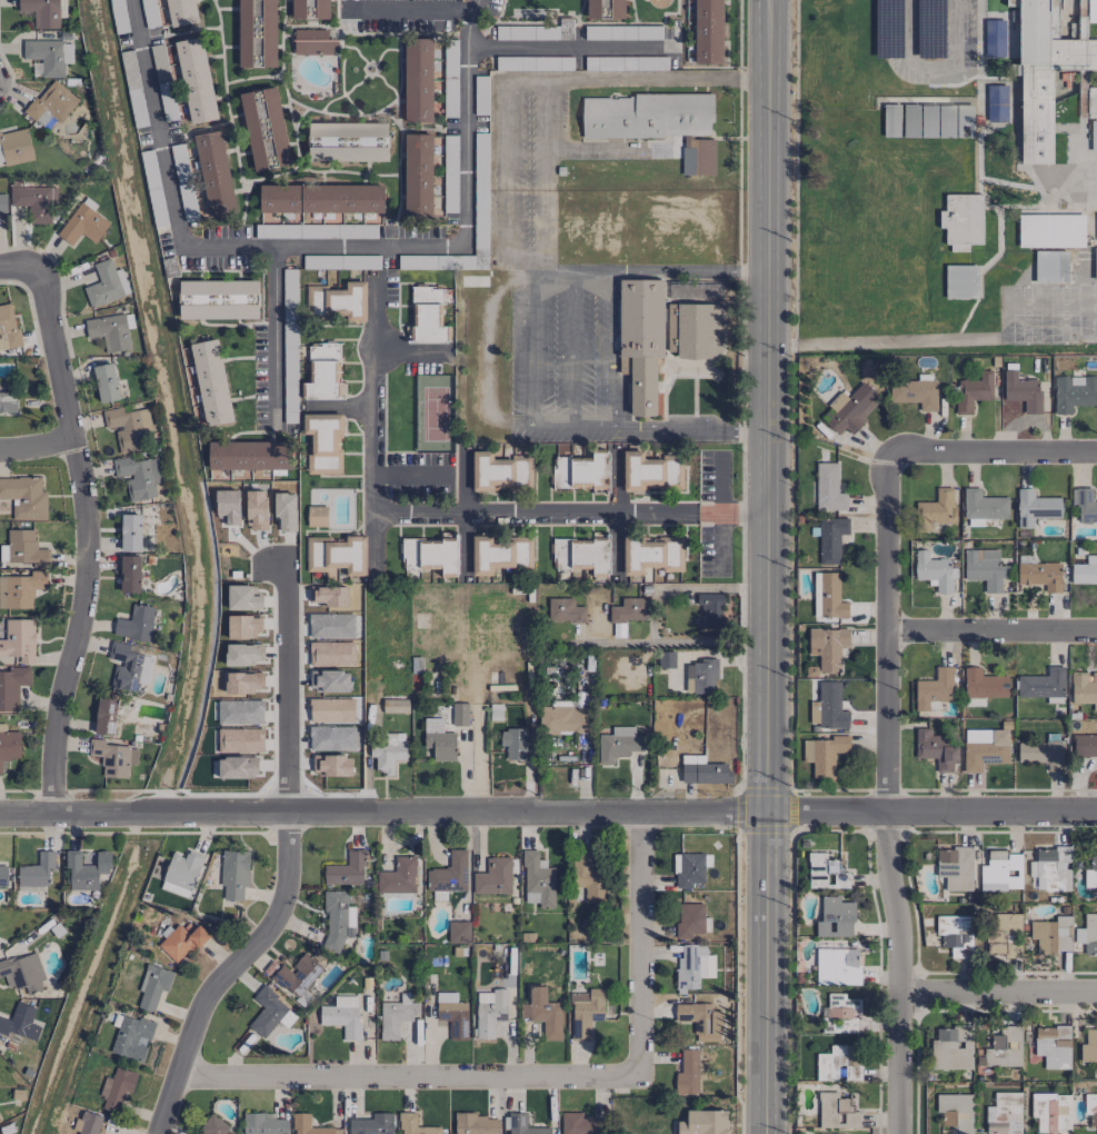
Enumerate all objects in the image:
building: (298, 9)
building: (322, 9)
road: (408, 9)
building: (592, 9)
building: (617, 9)
building: (41, 12)
building: (181, 12)
building: (708, 32)
building: (245, 33)
building: (269, 33)
road: (904, 38)
building: (995, 38)
road: (818, 39)
road: (860, 39)
building: (313, 41)
road: (571, 47)
building: (48, 56)
road: (792, 71)
road: (919, 76)
road: (636, 79)
building: (196, 80)
building: (418, 80)
road: (898, 87)
building: (996, 102)
building: (51, 103)
building: (647, 116)
building: (1094, 136)
building: (347, 141)
road: (790, 143)
building: (256, 145)
building: (14, 147)
building: (705, 157)
building: (215, 173)
building: (418, 175)
road: (503, 176)
building: (320, 198)
building: (34, 201)
building: (2, 202)
building: (961, 221)
building: (82, 225)
building: (1051, 230)
road: (321, 249)
building: (1095, 263)
building: (1051, 267)
road: (19, 268)
road: (558, 271)
road: (691, 272)
building: (960, 281)
building: (106, 285)
building: (218, 299)
park: (1048, 312)
building: (427, 316)
building: (8, 327)
building: (109, 331)
road: (270, 331)
building: (696, 331)
building: (640, 340)
road: (881, 341)
road: (530, 349)
road: (572, 350)
road: (615, 350)
road: (410, 351)
building: (325, 372)
building: (106, 382)
building: (211, 382)
road: (490, 384)
building: (973, 391)
building: (1023, 391)
building: (1074, 392)
building: (915, 394)
building: (8, 400)
road: (343, 406)
building: (852, 410)
building: (128, 428)
road: (594, 429)
road: (691, 430)
building: (322, 442)
road: (990, 444)
road: (36, 448)
building: (249, 456)
building: (500, 471)
building: (582, 472)
building: (651, 472)
road: (420, 475)
building: (138, 476)
road: (465, 484)
building: (828, 488)
building: (24, 498)
building: (1086, 506)
building: (936, 507)
building: (983, 507)
building: (1035, 508)
road: (420, 511)
road: (719, 511)
road: (616, 513)
road: (731, 515)
building: (317, 516)
building: (130, 533)
road: (88, 539)
road: (375, 539)
building: (830, 539)
road: (465, 540)
building: (26, 548)
building: (582, 553)
building: (340, 554)
building: (652, 554)
building: (492, 555)
building: (440, 556)
road: (767, 566)
building: (985, 568)
building: (935, 571)
building: (1085, 571)
building: (130, 574)
building: (1040, 575)
building: (20, 589)
road: (687, 589)
building: (816, 594)
building: (831, 596)
building: (708, 609)
building: (565, 610)
building: (136, 624)
road: (988, 626)
building: (19, 639)
road: (674, 641)
building: (827, 647)
building: (667, 656)
building: (128, 667)
building: (700, 677)
building: (1043, 684)
building: (11, 687)
building: (983, 687)
building: (1084, 687)
building: (934, 688)
road: (289, 692)
building: (395, 706)
building: (830, 706)
building: (460, 714)
building: (106, 716)
building: (565, 718)
building: (439, 739)
building: (513, 743)
building: (618, 744)
building: (9, 745)
building: (985, 748)
building: (937, 749)
building: (388, 752)
building: (1041, 754)
building: (824, 755)
building: (113, 758)
building: (704, 770)
road: (885, 788)
road: (548, 810)
building: (87, 868)
building: (690, 868)
building: (955, 868)
building: (1051, 868)
building: (346, 869)
building: (37, 871)
building: (826, 872)
building: (1001, 872)
building: (181, 873)
building: (1090, 873)
building: (449, 874)
building: (235, 875)
building: (3, 876)
building: (398, 876)
building: (493, 877)
building: (538, 878)
building: (589, 881)
building: (835, 918)
building: (337, 919)
building: (689, 919)
building: (458, 932)
building: (956, 935)
building: (1051, 935)
building: (1090, 935)
building: (1005, 937)
building: (181, 942)
road: (639, 943)
building: (692, 966)
building: (851, 966)
road: (229, 971)
building: (300, 971)
building: (22, 973)
building: (152, 986)
road: (998, 991)
building: (269, 1012)
building: (490, 1012)
building: (842, 1012)
building: (542, 1013)
building: (584, 1013)
building: (451, 1015)
building: (342, 1016)
building: (396, 1016)
building: (20, 1022)
building: (699, 1022)
building: (131, 1037)
building: (1004, 1046)
building: (1053, 1046)
building: (1089, 1046)
building: (950, 1047)
building: (838, 1064)
building: (689, 1073)
road: (408, 1077)
building: (117, 1088)
building: (1090, 1103)
building: (836, 1112)
building: (0, 1122)
building: (704, 1122)
building: (89, 1123)
building: (475, 1123)
building: (263, 1124)
building: (372, 1124)
building: (580, 1124)
building: (309, 1125)
building: (415, 1125)
building: (523, 1125)
building: (212, 1126)

